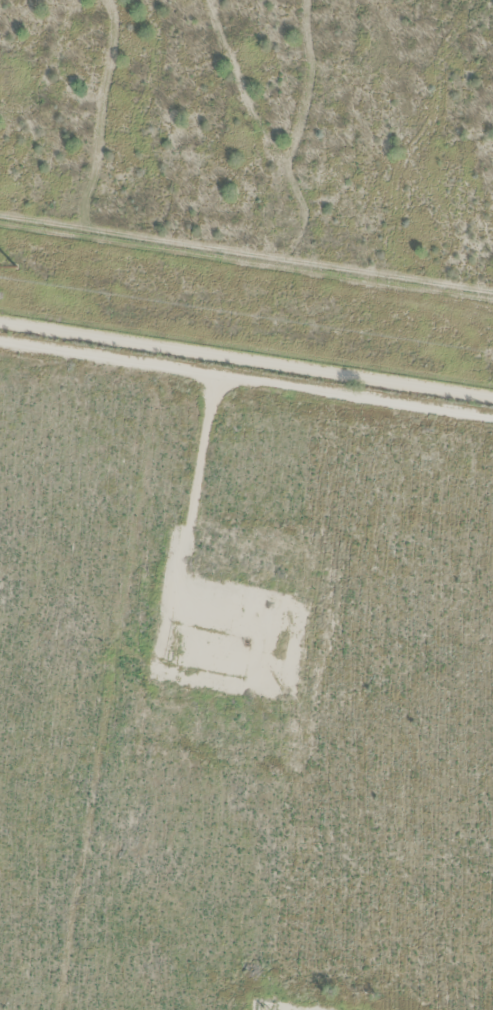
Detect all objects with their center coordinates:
power tower: (14, 266)
road: (246, 385)

